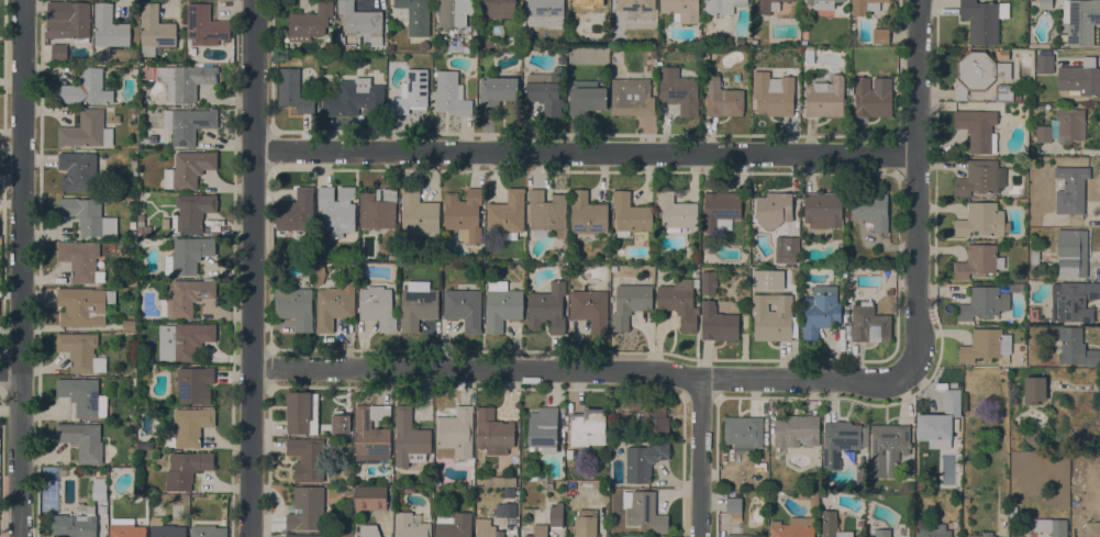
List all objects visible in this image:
building: (1032, 0)
building: (822, 3)
building: (1045, 3)
building: (635, 4)
building: (767, 5)
building: (865, 5)
building: (588, 7)
building: (719, 7)
building: (500, 9)
building: (681, 10)
building: (455, 12)
building: (545, 12)
building: (416, 15)
building: (359, 20)
building: (1080, 20)
building: (982, 21)
building: (309, 22)
building: (73, 24)
building: (204, 26)
building: (109, 27)
building: (154, 31)
building: (880, 36)
building: (463, 47)
building: (390, 48)
building: (59, 52)
building: (653, 53)
building: (1003, 54)
building: (809, 57)
building: (1044, 64)
building: (978, 72)
road: (5, 74)
building: (1080, 78)
building: (185, 80)
building: (87, 89)
building: (497, 90)
building: (545, 90)
building: (678, 90)
building: (292, 91)
building: (411, 92)
building: (1005, 92)
building: (451, 93)
building: (773, 94)
building: (586, 97)
building: (873, 97)
building: (1018, 97)
building: (1026, 97)
building: (619, 98)
building: (825, 98)
building: (354, 99)
building: (722, 99)
building: (188, 124)
building: (1063, 127)
building: (978, 130)
building: (86, 131)
road: (584, 154)
road: (11, 163)
building: (77, 170)
building: (188, 170)
building: (980, 178)
road: (915, 183)
building: (1070, 190)
building: (141, 205)
building: (378, 209)
building: (773, 209)
building: (337, 210)
building: (721, 210)
building: (822, 210)
building: (870, 210)
building: (545, 212)
building: (676, 212)
building: (192, 213)
building: (296, 213)
building: (464, 214)
building: (507, 214)
building: (587, 214)
building: (630, 215)
building: (88, 216)
building: (419, 216)
building: (981, 221)
building: (165, 224)
building: (132, 225)
building: (142, 226)
building: (132, 234)
building: (790, 245)
building: (1071, 253)
building: (188, 255)
building: (1034, 256)
building: (80, 261)
building: (978, 261)
road: (3, 266)
road: (21, 268)
road: (254, 268)
building: (319, 273)
building: (708, 282)
building: (1015, 288)
building: (890, 291)
building: (848, 298)
building: (186, 299)
building: (1071, 300)
building: (679, 302)
building: (630, 303)
building: (984, 303)
building: (333, 305)
building: (501, 305)
building: (84, 306)
building: (295, 306)
building: (377, 307)
building: (418, 307)
building: (464, 309)
building: (547, 309)
building: (590, 310)
building: (820, 311)
building: (1033, 314)
building: (774, 318)
building: (718, 324)
building: (869, 324)
building: (129, 326)
building: (184, 342)
building: (985, 345)
building: (1075, 348)
building: (80, 353)
road: (588, 370)
road: (10, 371)
building: (195, 385)
building: (1034, 390)
building: (82, 396)
building: (302, 414)
building: (653, 418)
building: (940, 422)
building: (189, 427)
building: (588, 427)
building: (543, 429)
building: (796, 432)
building: (371, 433)
building: (493, 433)
building: (743, 433)
building: (455, 435)
building: (409, 438)
building: (1033, 438)
building: (82, 441)
building: (842, 444)
building: (141, 447)
building: (888, 449)
building: (569, 455)
building: (308, 458)
road: (703, 458)
building: (644, 460)
building: (920, 460)
road: (1, 463)
building: (759, 467)
building: (187, 469)
building: (536, 477)
building: (500, 481)
building: (862, 481)
building: (546, 485)
building: (509, 492)
building: (369, 497)
building: (809, 497)
building: (820, 499)
building: (966, 501)
building: (733, 505)
building: (305, 508)
building: (102, 510)
building: (505, 510)
building: (644, 511)
building: (81, 514)
building: (556, 514)
building: (586, 523)
building: (410, 525)
building: (832, 525)
building: (454, 526)
building: (1052, 526)
building: (125, 528)
building: (1092, 528)
building: (486, 529)
building: (167, 530)
building: (208, 530)
building: (368, 530)
building: (791, 530)
building: (932, 530)
building: (538, 532)
building: (881, 533)
building: (303, 535)
building: (737, 535)
building: (982, 535)

